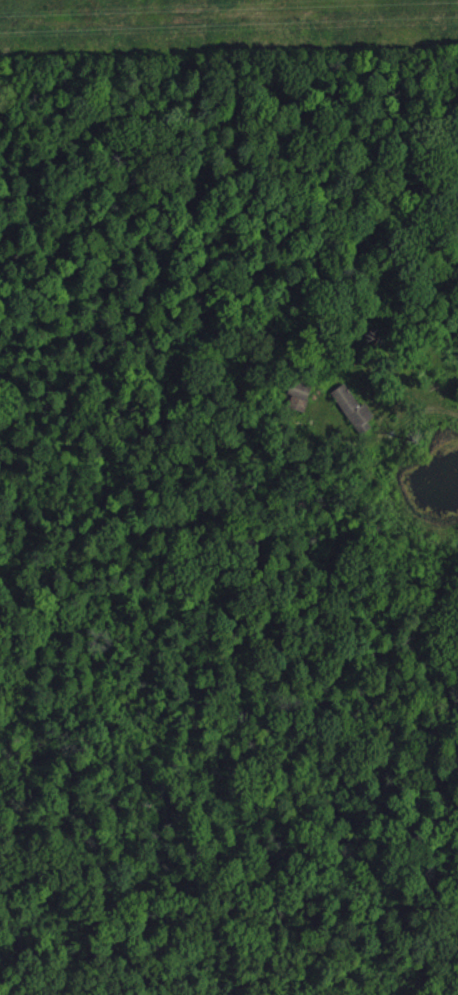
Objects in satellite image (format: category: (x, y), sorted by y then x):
building: (297, 406)
building: (353, 419)

